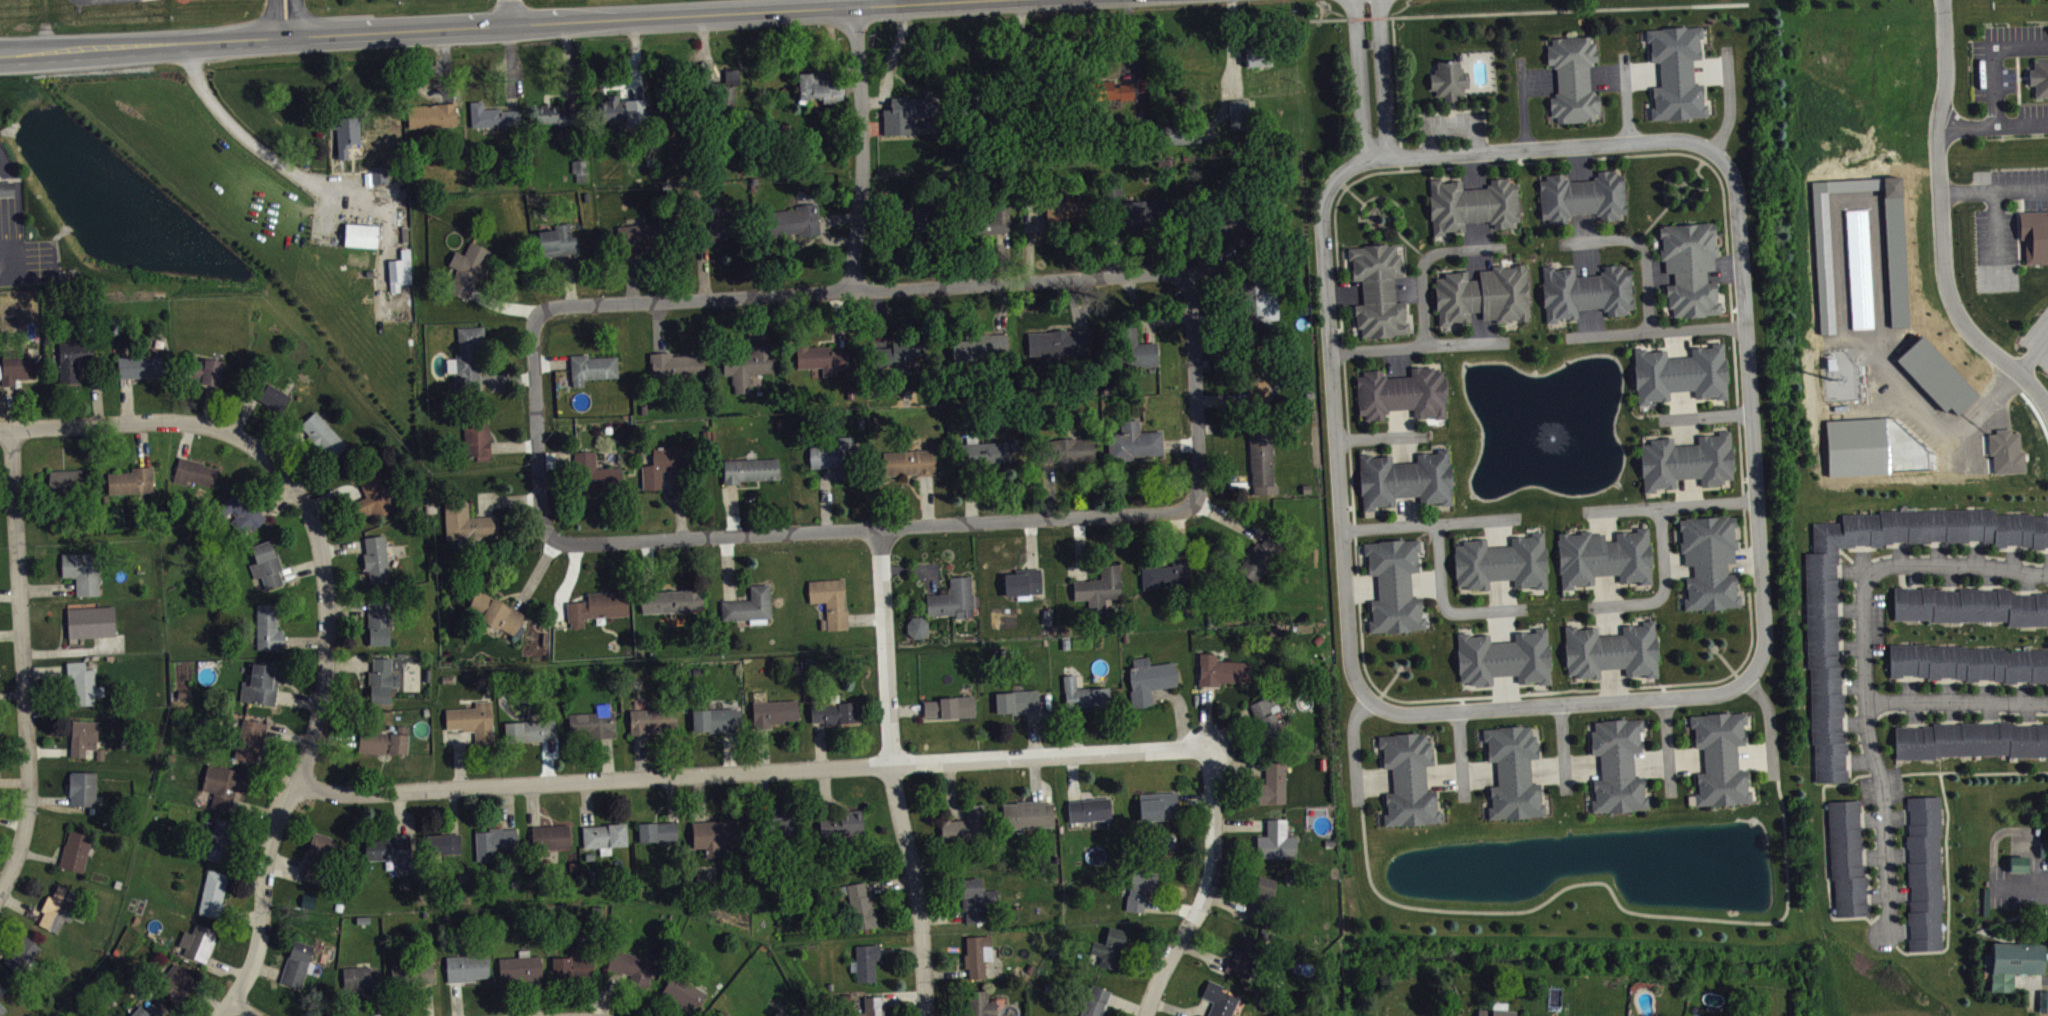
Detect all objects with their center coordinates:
road: (839, 3)
road: (509, 12)
road: (1504, 12)
road: (285, 18)
road: (1328, 18)
road: (477, 25)
road: (1996, 58)
building: (1261, 61)
building: (1675, 72)
building: (1572, 78)
parking lot: (2004, 78)
building: (2039, 78)
building: (1447, 79)
road: (1371, 80)
building: (811, 87)
building: (725, 90)
building: (1112, 90)
road: (1626, 99)
building: (1036, 104)
road: (1522, 105)
road: (1733, 108)
building: (620, 110)
building: (1237, 112)
building: (907, 113)
building: (431, 114)
building: (554, 114)
building: (492, 116)
road: (1993, 123)
parking lot: (1451, 129)
building: (1181, 132)
building: (345, 134)
road: (1674, 143)
road: (251, 145)
road: (861, 148)
road: (1648, 154)
road: (1525, 161)
building: (382, 180)
road: (1353, 180)
road: (1663, 183)
building: (6, 188)
road: (1995, 190)
road: (1354, 195)
building: (1581, 196)
road: (1722, 196)
road: (1378, 200)
road: (1396, 204)
building: (1471, 204)
road: (1391, 205)
parking lot: (2004, 209)
building: (1068, 217)
building: (1148, 218)
building: (792, 220)
building: (918, 220)
road: (1944, 222)
building: (1000, 225)
building: (709, 227)
road: (1996, 227)
building: (361, 234)
building: (641, 234)
building: (2034, 235)
building: (556, 240)
road: (1642, 248)
road: (1424, 263)
building: (1689, 267)
building: (467, 268)
building: (399, 271)
road: (860, 290)
building: (1377, 290)
building: (1584, 291)
building: (1482, 294)
building: (1258, 300)
road: (1729, 301)
road: (1341, 325)
road: (1656, 335)
parking lot: (2037, 339)
building: (1057, 341)
building: (978, 345)
road: (1419, 348)
building: (1130, 350)
building: (893, 353)
building: (467, 356)
road: (2032, 356)
building: (820, 358)
building: (72, 359)
building: (677, 363)
building: (746, 365)
building: (15, 366)
building: (138, 366)
building: (591, 368)
road: (1734, 370)
building: (203, 371)
building: (1679, 373)
building: (1255, 380)
road: (1195, 391)
building: (267, 393)
building: (1401, 393)
road: (1345, 396)
road: (1704, 416)
road: (132, 421)
road: (536, 425)
building: (321, 433)
building: (476, 436)
road: (1382, 437)
building: (1131, 441)
building: (1065, 450)
building: (983, 452)
building: (837, 456)
building: (2009, 457)
building: (1260, 459)
road: (1739, 459)
building: (1685, 461)
building: (908, 462)
building: (661, 465)
building: (749, 469)
building: (194, 472)
building: (594, 473)
building: (1404, 479)
building: (66, 481)
building: (130, 481)
road: (1351, 486)
building: (372, 496)
road: (1668, 506)
building: (241, 513)
building: (466, 523)
road: (1429, 523)
road: (870, 528)
road: (1743, 528)
building: (1603, 557)
building: (1259, 558)
building: (375, 559)
building: (1708, 561)
building: (1501, 562)
building: (266, 565)
road: (1891, 565)
parking lot: (1948, 565)
building: (82, 571)
building: (1167, 574)
building: (1022, 581)
building: (1393, 585)
road: (1663, 588)
building: (1098, 589)
building: (951, 599)
building: (672, 600)
building: (829, 600)
road: (1443, 605)
building: (1969, 605)
building: (596, 606)
building: (748, 606)
building: (495, 613)
building: (90, 621)
building: (377, 622)
building: (267, 628)
building: (920, 633)
building: (1821, 647)
building: (1611, 650)
building: (1503, 658)
road: (22, 661)
road: (1724, 661)
building: (1967, 662)
parking lot: (1860, 665)
building: (1220, 670)
road: (1365, 672)
building: (1148, 679)
building: (381, 680)
road: (1389, 682)
building: (83, 683)
road: (1678, 683)
building: (261, 684)
building: (1082, 693)
parking lot: (1962, 700)
building: (1016, 701)
building: (949, 706)
building: (772, 712)
building: (834, 712)
building: (716, 719)
building: (1266, 719)
building: (472, 720)
building: (652, 721)
building: (593, 722)
road: (1768, 725)
road: (1863, 728)
building: (529, 730)
road: (313, 732)
building: (84, 739)
building: (249, 740)
building: (1970, 740)
building: (383, 741)
road: (1666, 747)
road: (1352, 748)
road: (1563, 750)
road: (1460, 756)
building: (1719, 758)
building: (1616, 766)
road: (752, 769)
road: (893, 772)
building: (1512, 772)
road: (1918, 772)
building: (1408, 779)
building: (1272, 783)
building: (222, 785)
building: (82, 788)
building: (1156, 805)
building: (1088, 809)
building: (1027, 814)
building: (841, 823)
building: (964, 825)
building: (779, 826)
building: (657, 832)
road: (1945, 832)
building: (714, 835)
building: (550, 836)
building: (604, 836)
building: (221, 841)
building: (1274, 841)
building: (495, 842)
building: (442, 843)
building: (75, 851)
building: (393, 851)
building: (2045, 855)
building: (316, 856)
road: (1825, 856)
building: (1846, 857)
parking lot: (1883, 857)
building: (2021, 869)
building: (1923, 872)
road: (2018, 883)
road: (1606, 884)
parking lot: (2021, 885)
road: (1204, 887)
building: (1139, 891)
building: (212, 892)
building: (1261, 897)
building: (975, 899)
building: (859, 905)
building: (56, 909)
building: (197, 942)
building: (1108, 947)
building: (976, 954)
building: (22, 957)
building: (1242, 959)
building: (864, 961)
building: (2011, 963)
building: (296, 964)
building: (573, 966)
building: (520, 967)
building: (466, 968)
building: (631, 968)
building: (411, 973)
building: (359, 978)
road: (2030, 980)
building: (174, 982)
building: (1, 989)
building: (683, 993)
building: (1218, 1000)
building: (1090, 1003)
building: (979, 1004)
building: (871, 1007)
building: (2, 1009)
road: (243, 1009)
building: (1495, 1010)
building: (146, 1011)
road: (684, 1013)
building: (720, 1013)

